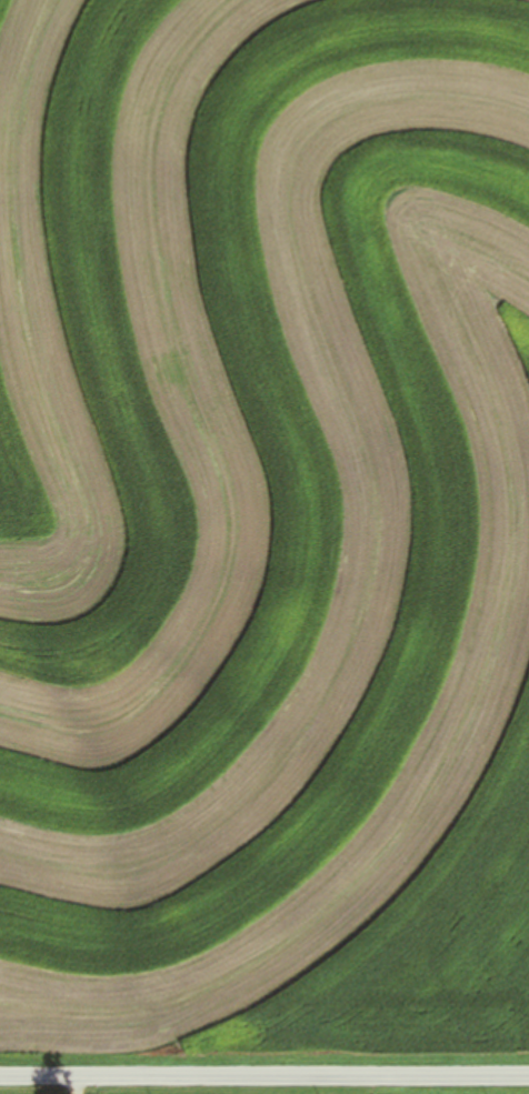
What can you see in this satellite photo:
road: (263, 1078)
road: (68, 1086)

